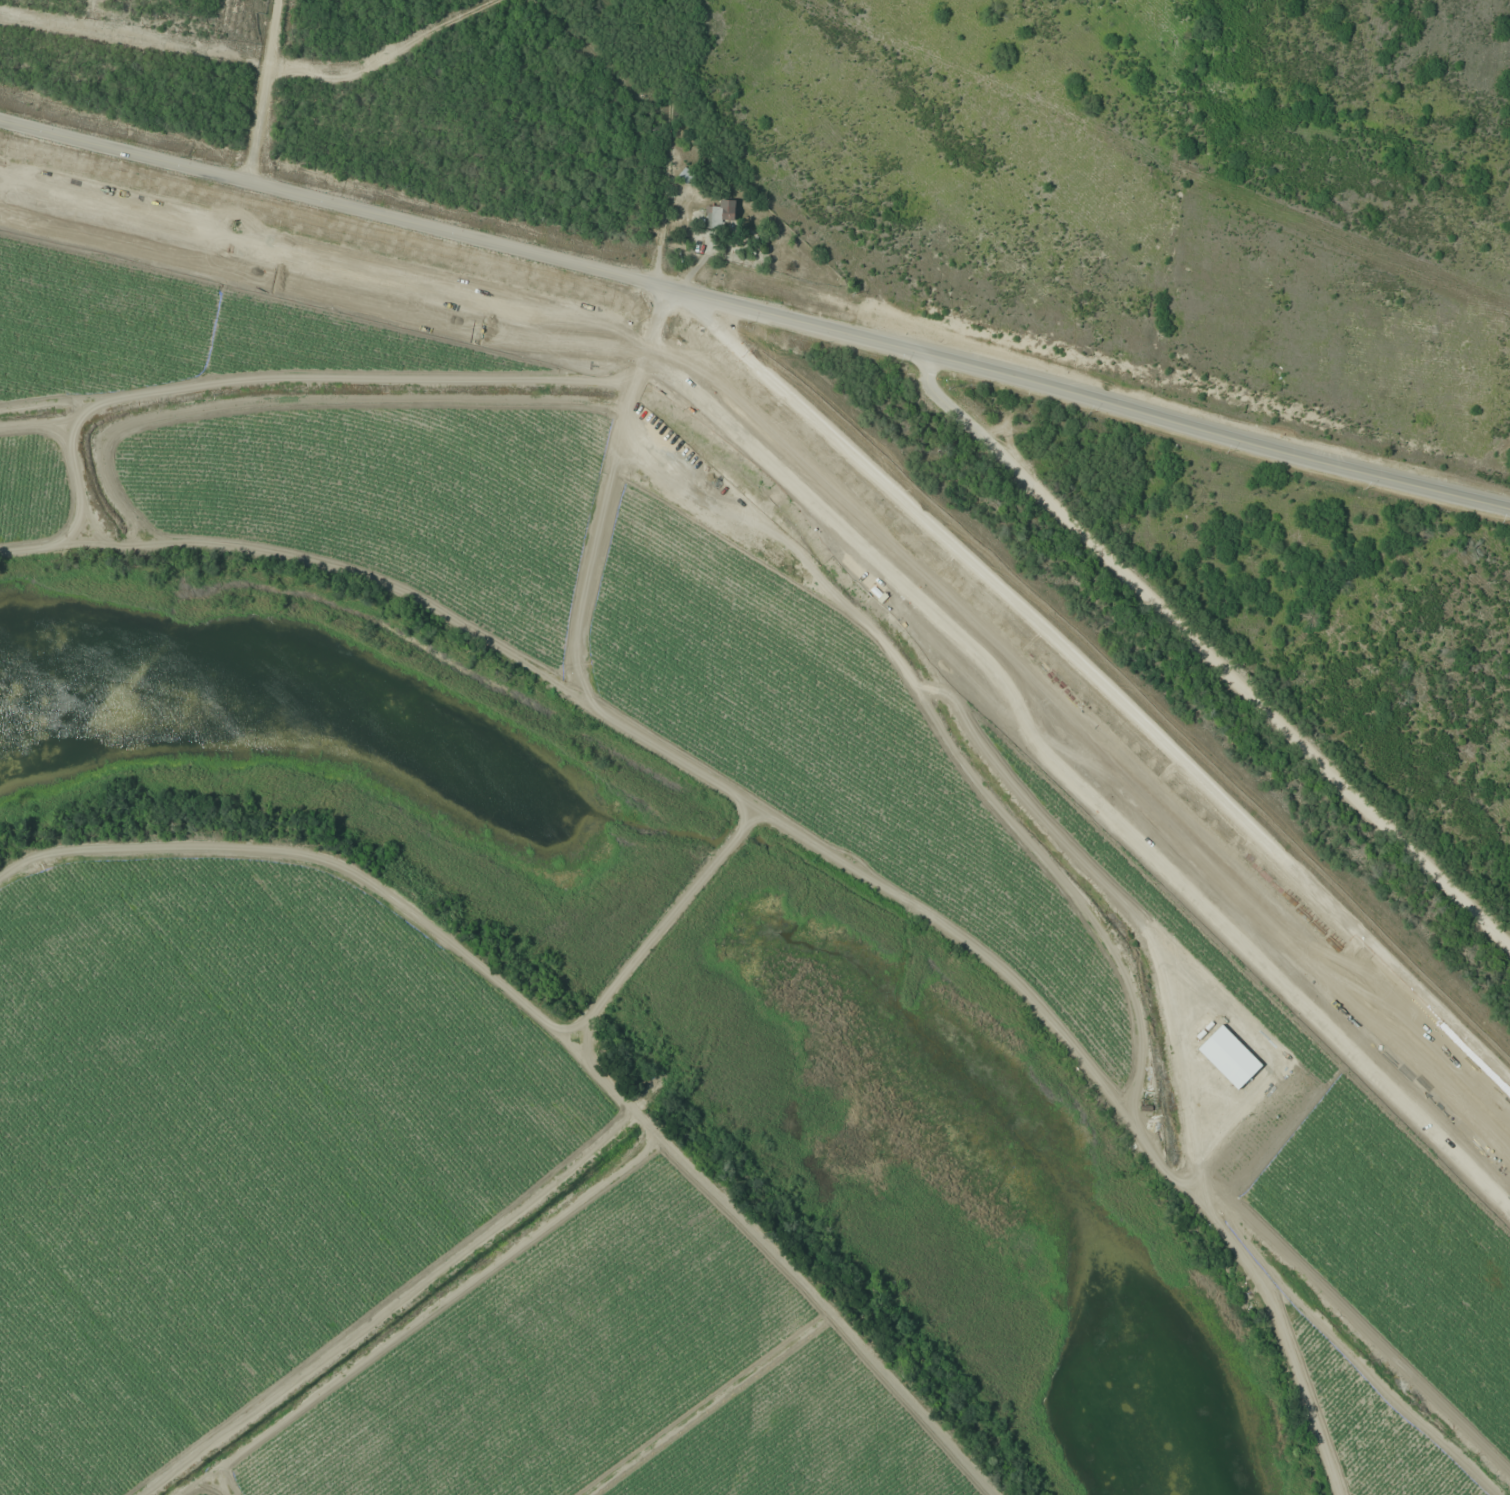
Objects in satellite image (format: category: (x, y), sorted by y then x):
road: (264, 91)
building: (689, 177)
building: (720, 213)
road: (465, 233)
road: (315, 377)
road: (1219, 435)
road: (76, 516)
building: (886, 580)
building: (908, 600)
road: (1209, 652)
road: (1095, 679)
road: (879, 884)
road: (662, 924)
road: (562, 1035)
road: (380, 1301)

